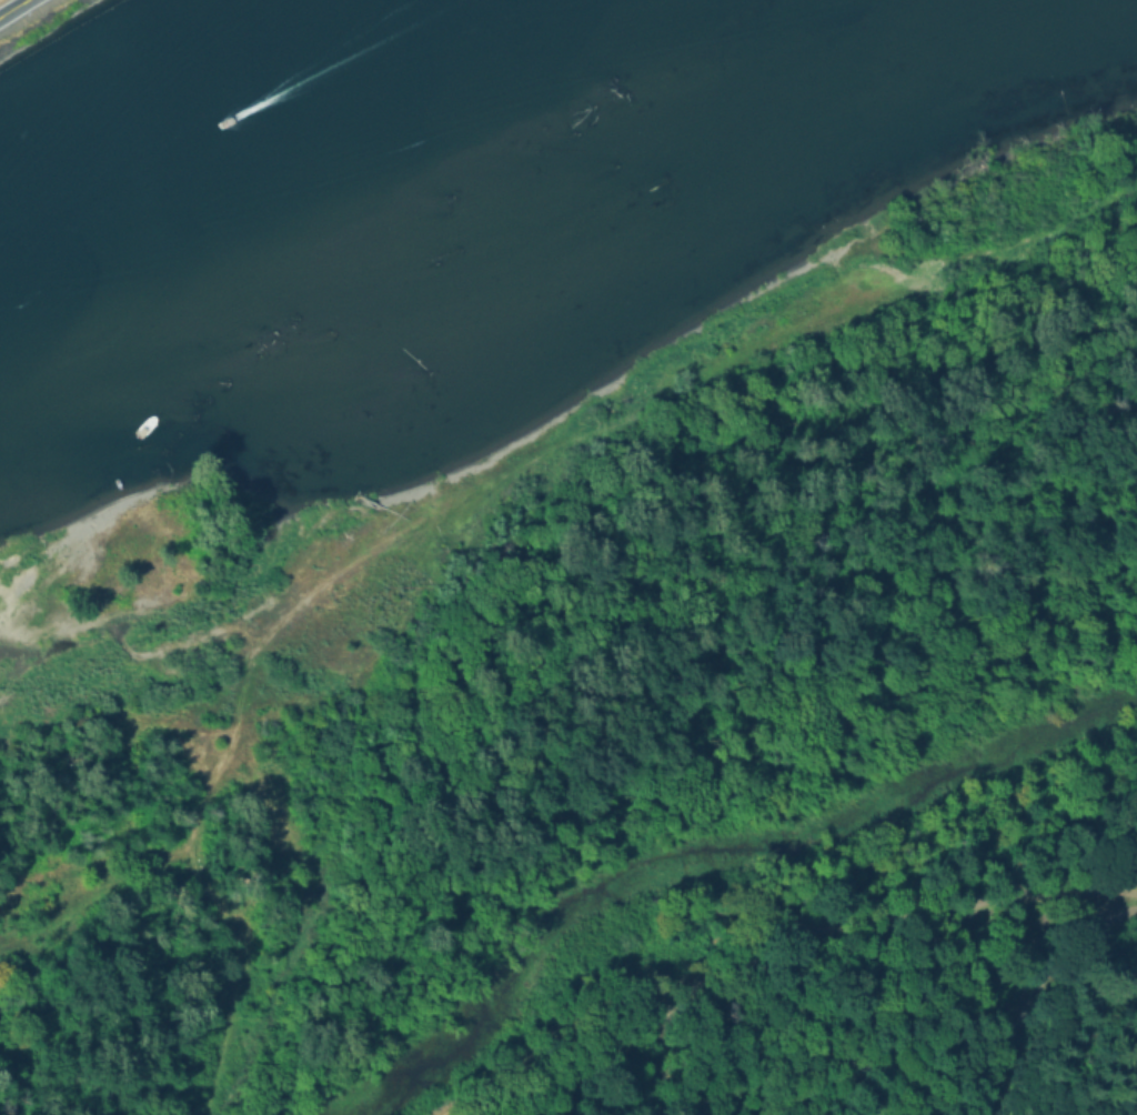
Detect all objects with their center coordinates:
road: (13, 8)
river: (310, 130)
road: (1030, 993)

